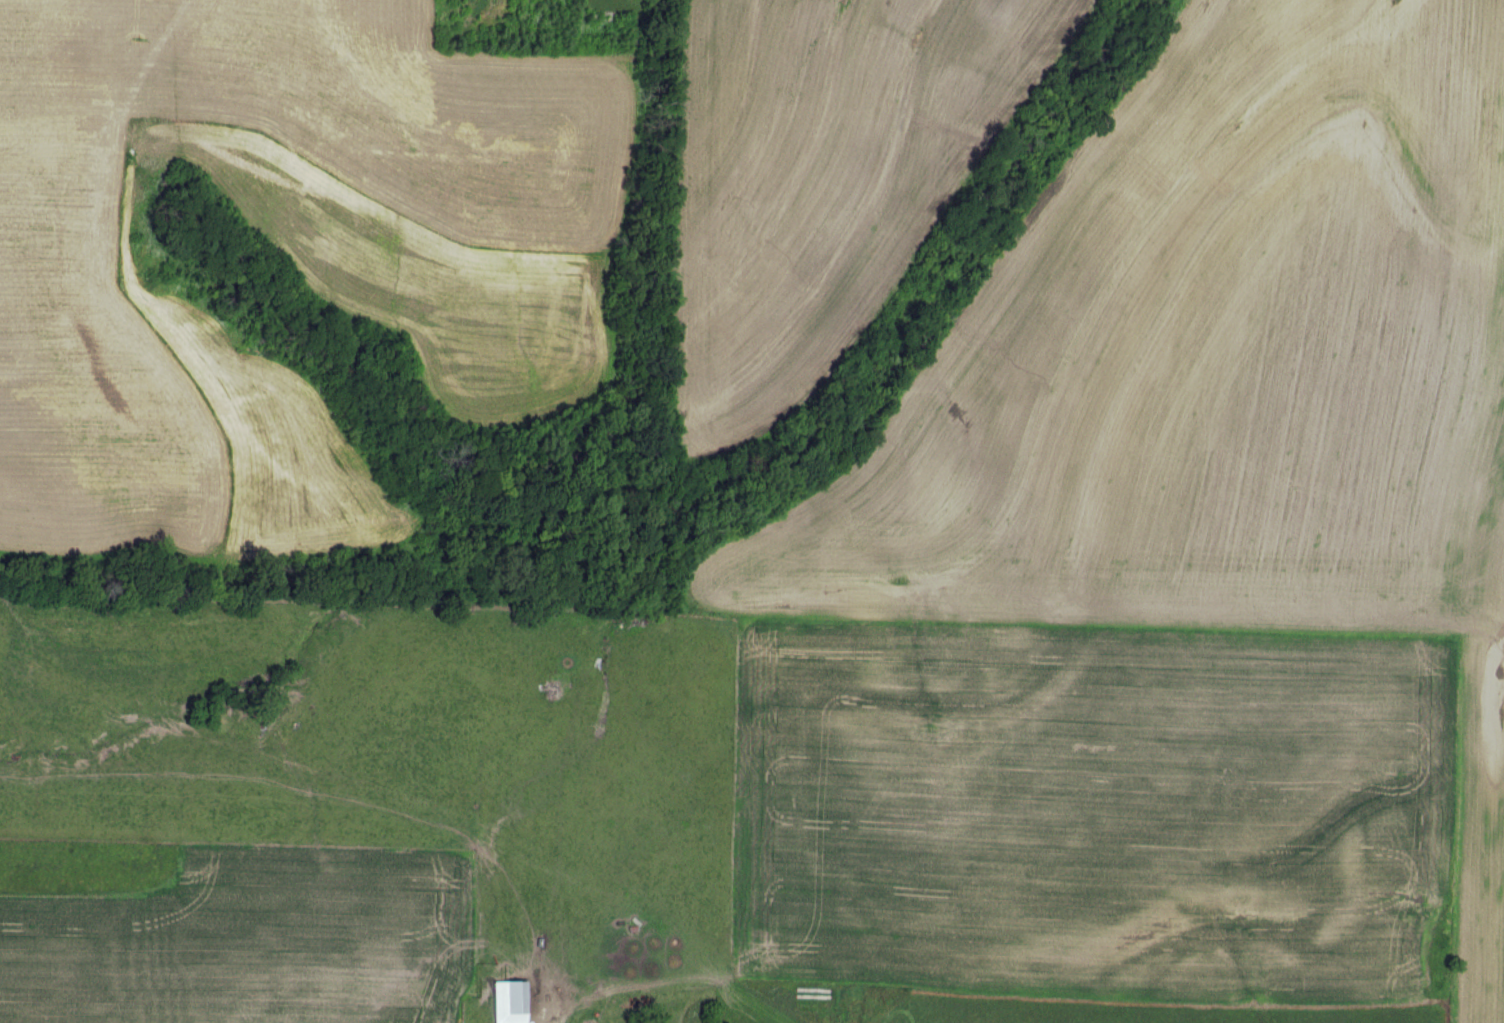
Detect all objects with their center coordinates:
building: (506, 1000)

